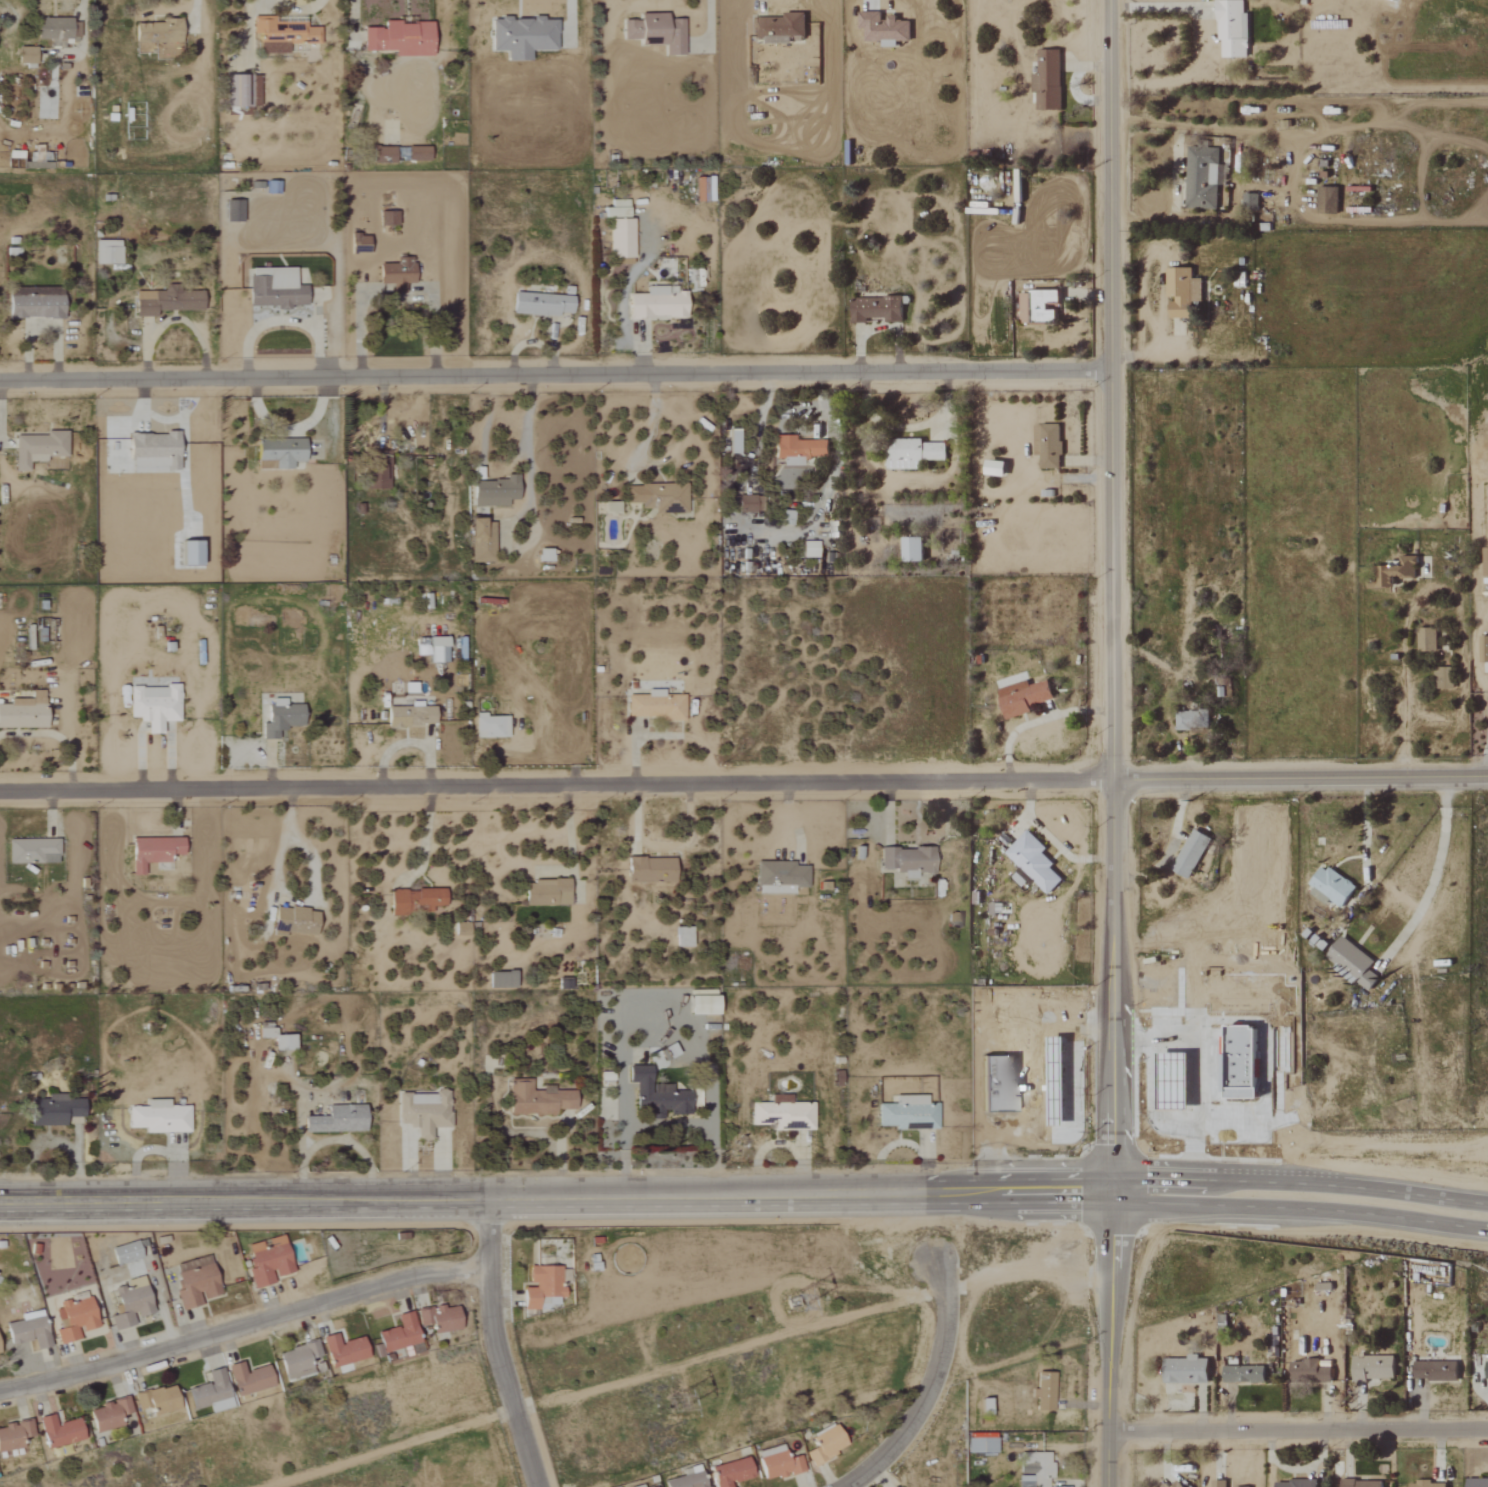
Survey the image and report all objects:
road: (1158, 10)
building: (148, 18)
building: (779, 28)
building: (882, 28)
building: (1230, 29)
road: (712, 30)
building: (57, 31)
building: (156, 31)
building: (655, 32)
building: (281, 34)
building: (521, 36)
building: (397, 38)
building: (25, 55)
building: (1046, 80)
building: (239, 91)
building: (413, 154)
building: (384, 155)
building: (1202, 177)
building: (1220, 197)
building: (1326, 200)
building: (1249, 201)
building: (615, 209)
building: (232, 211)
building: (386, 218)
building: (620, 238)
building: (357, 244)
building: (106, 252)
building: (395, 274)
building: (274, 289)
building: (38, 291)
building: (1181, 291)
building: (165, 301)
building: (656, 303)
building: (539, 304)
building: (33, 307)
building: (1036, 307)
building: (874, 309)
road: (555, 376)
road: (1111, 389)
road: (527, 436)
building: (731, 441)
building: (1046, 445)
building: (36, 448)
building: (796, 449)
building: (152, 452)
building: (910, 452)
building: (277, 453)
building: (378, 466)
building: (992, 468)
building: (494, 492)
building: (659, 498)
building: (749, 504)
building: (607, 508)
building: (786, 517)
building: (480, 541)
building: (809, 549)
building: (910, 549)
building: (187, 553)
building: (543, 555)
building: (1484, 562)
building: (1396, 572)
road: (1463, 617)
building: (1426, 639)
building: (436, 650)
building: (1483, 650)
building: (487, 672)
building: (1443, 678)
building: (1021, 697)
building: (152, 706)
building: (654, 706)
building: (23, 712)
building: (409, 716)
building: (279, 718)
building: (1190, 720)
building: (489, 726)
road: (409, 741)
road: (1302, 775)
road: (558, 782)
road: (426, 837)
road: (1364, 840)
road: (571, 842)
building: (31, 851)
building: (152, 851)
building: (1189, 853)
building: (906, 860)
building: (1032, 860)
building: (649, 869)
road: (1433, 875)
building: (779, 877)
building: (1328, 885)
road: (314, 887)
building: (545, 892)
building: (425, 898)
building: (396, 904)
building: (293, 920)
building: (460, 928)
building: (682, 936)
building: (1351, 961)
building: (501, 979)
road: (1115, 987)
building: (701, 992)
building: (700, 1004)
road: (665, 1028)
building: (277, 1039)
building: (669, 1051)
building: (656, 1093)
building: (536, 1099)
road: (1152, 1108)
building: (55, 1110)
building: (423, 1111)
building: (781, 1113)
building: (907, 1113)
building: (158, 1117)
building: (336, 1119)
road: (1300, 1182)
road: (557, 1200)
road: (1300, 1215)
building: (124, 1253)
building: (267, 1261)
building: (193, 1281)
building: (541, 1285)
power tower: (798, 1297)
building: (129, 1302)
building: (72, 1319)
building: (438, 1319)
building: (27, 1330)
road: (244, 1333)
building: (398, 1336)
road: (1112, 1341)
road: (494, 1347)
building: (342, 1350)
building: (297, 1360)
building: (1396, 1366)
building: (1371, 1368)
building: (1185, 1370)
building: (1307, 1371)
building: (1434, 1371)
building: (1486, 1371)
building: (1242, 1374)
building: (247, 1379)
road: (929, 1383)
building: (209, 1392)
building: (1045, 1393)
power tower: (681, 1399)
building: (155, 1400)
building: (108, 1415)
road: (1300, 1429)
building: (57, 1431)
building: (13, 1435)
building: (824, 1444)
building: (980, 1445)
building: (776, 1464)
building: (1036, 1467)
building: (729, 1472)
building: (685, 1481)
building: (1217, 1483)
building: (1293, 1483)
building: (1360, 1483)
building: (1476, 1483)
building: (1175, 1484)
building: (1425, 1484)
building: (1241, 1486)

